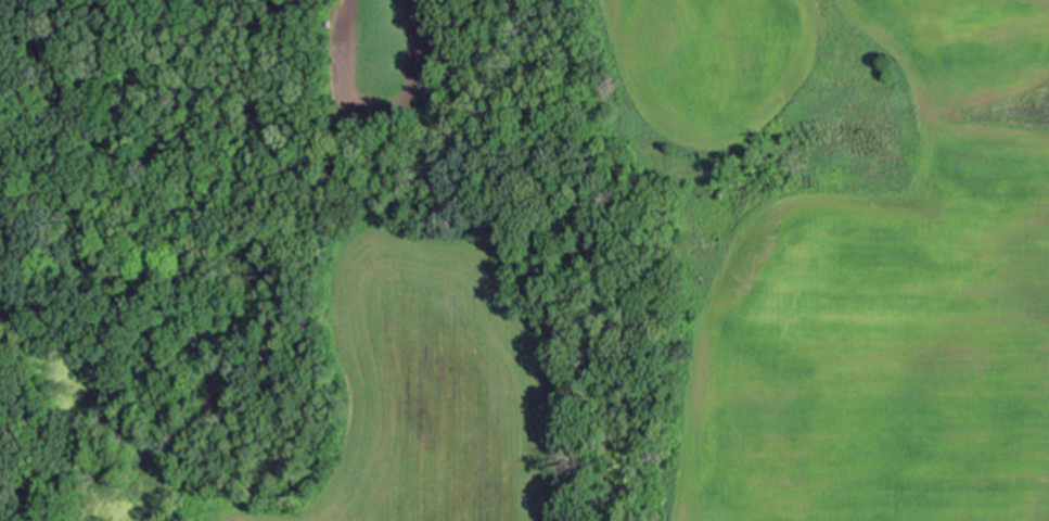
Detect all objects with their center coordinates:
building: (355, 139)
building: (720, 194)

